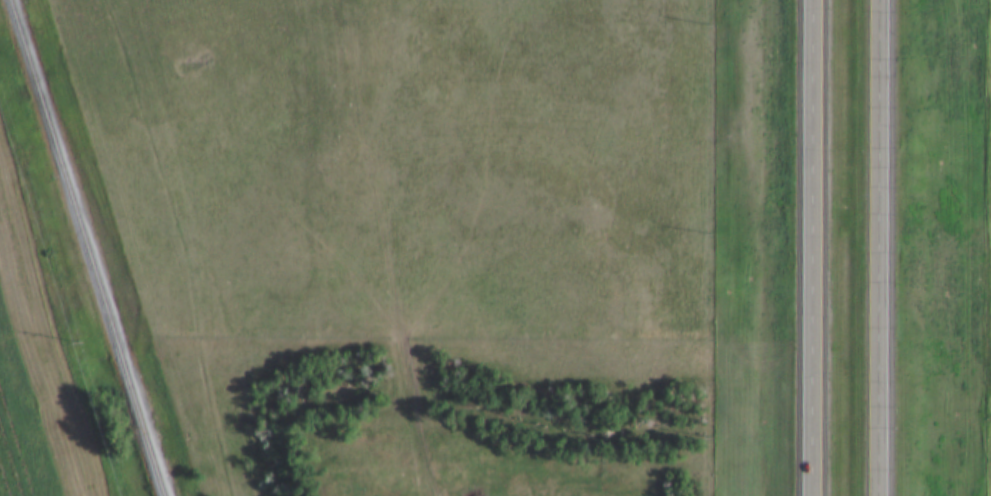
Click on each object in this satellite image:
railway: (107, 247)
road: (816, 248)
road: (881, 248)
quarry: (18, 438)

